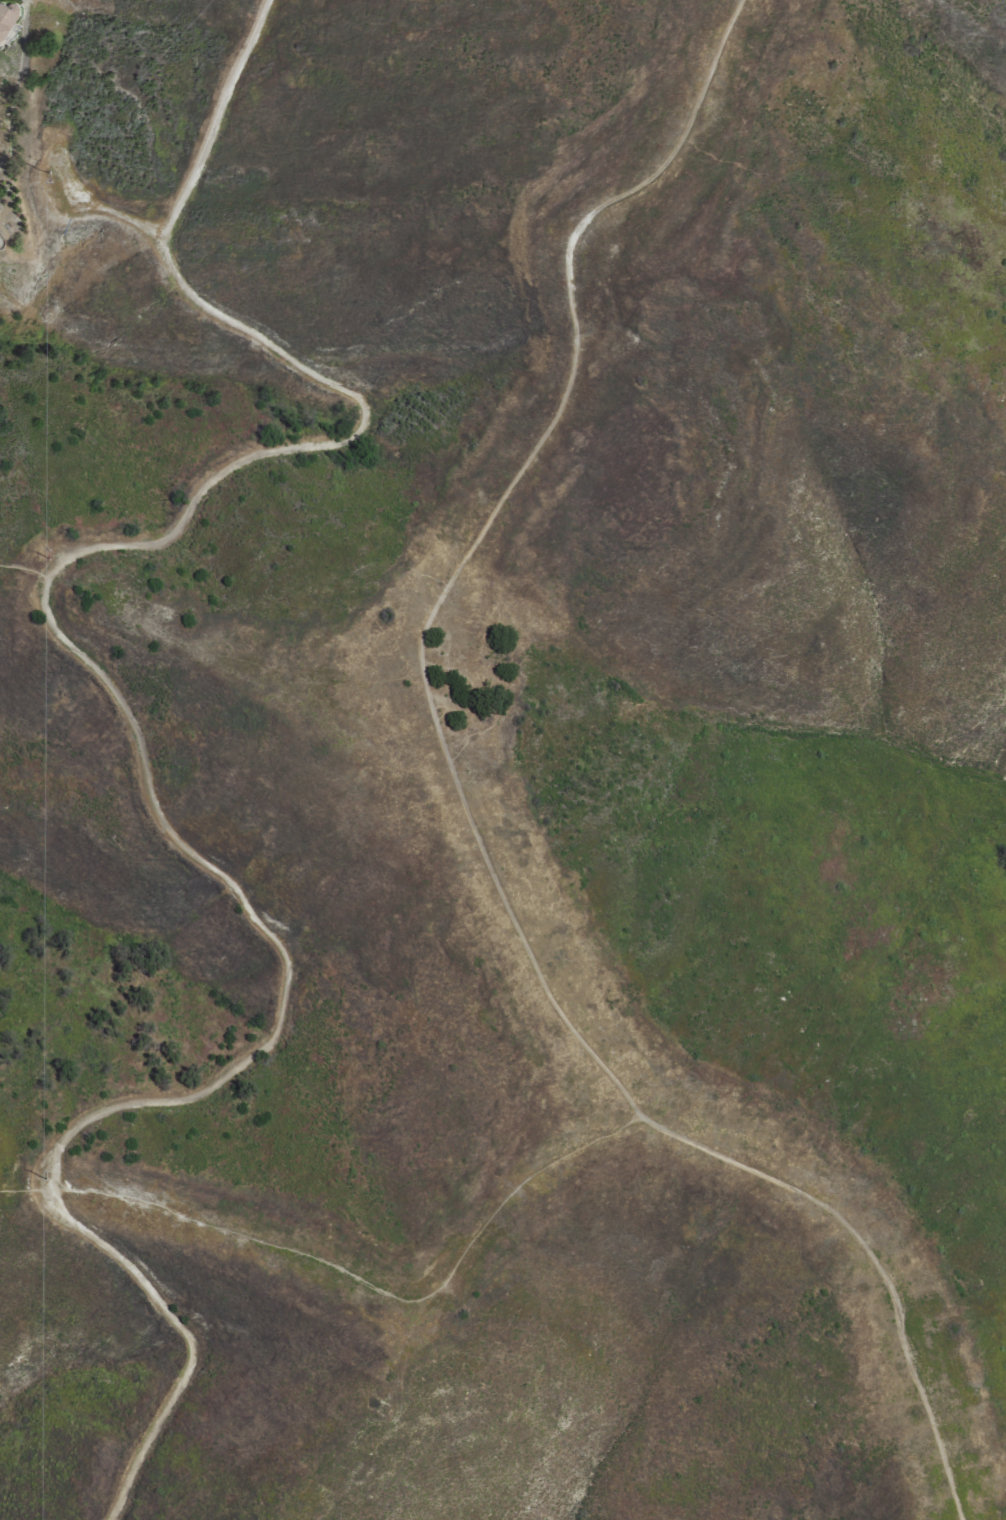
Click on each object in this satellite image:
building: (4, 19)
road: (103, 208)
road: (24, 569)
road: (128, 718)
road: (461, 801)
road: (24, 1190)
road: (374, 1289)

